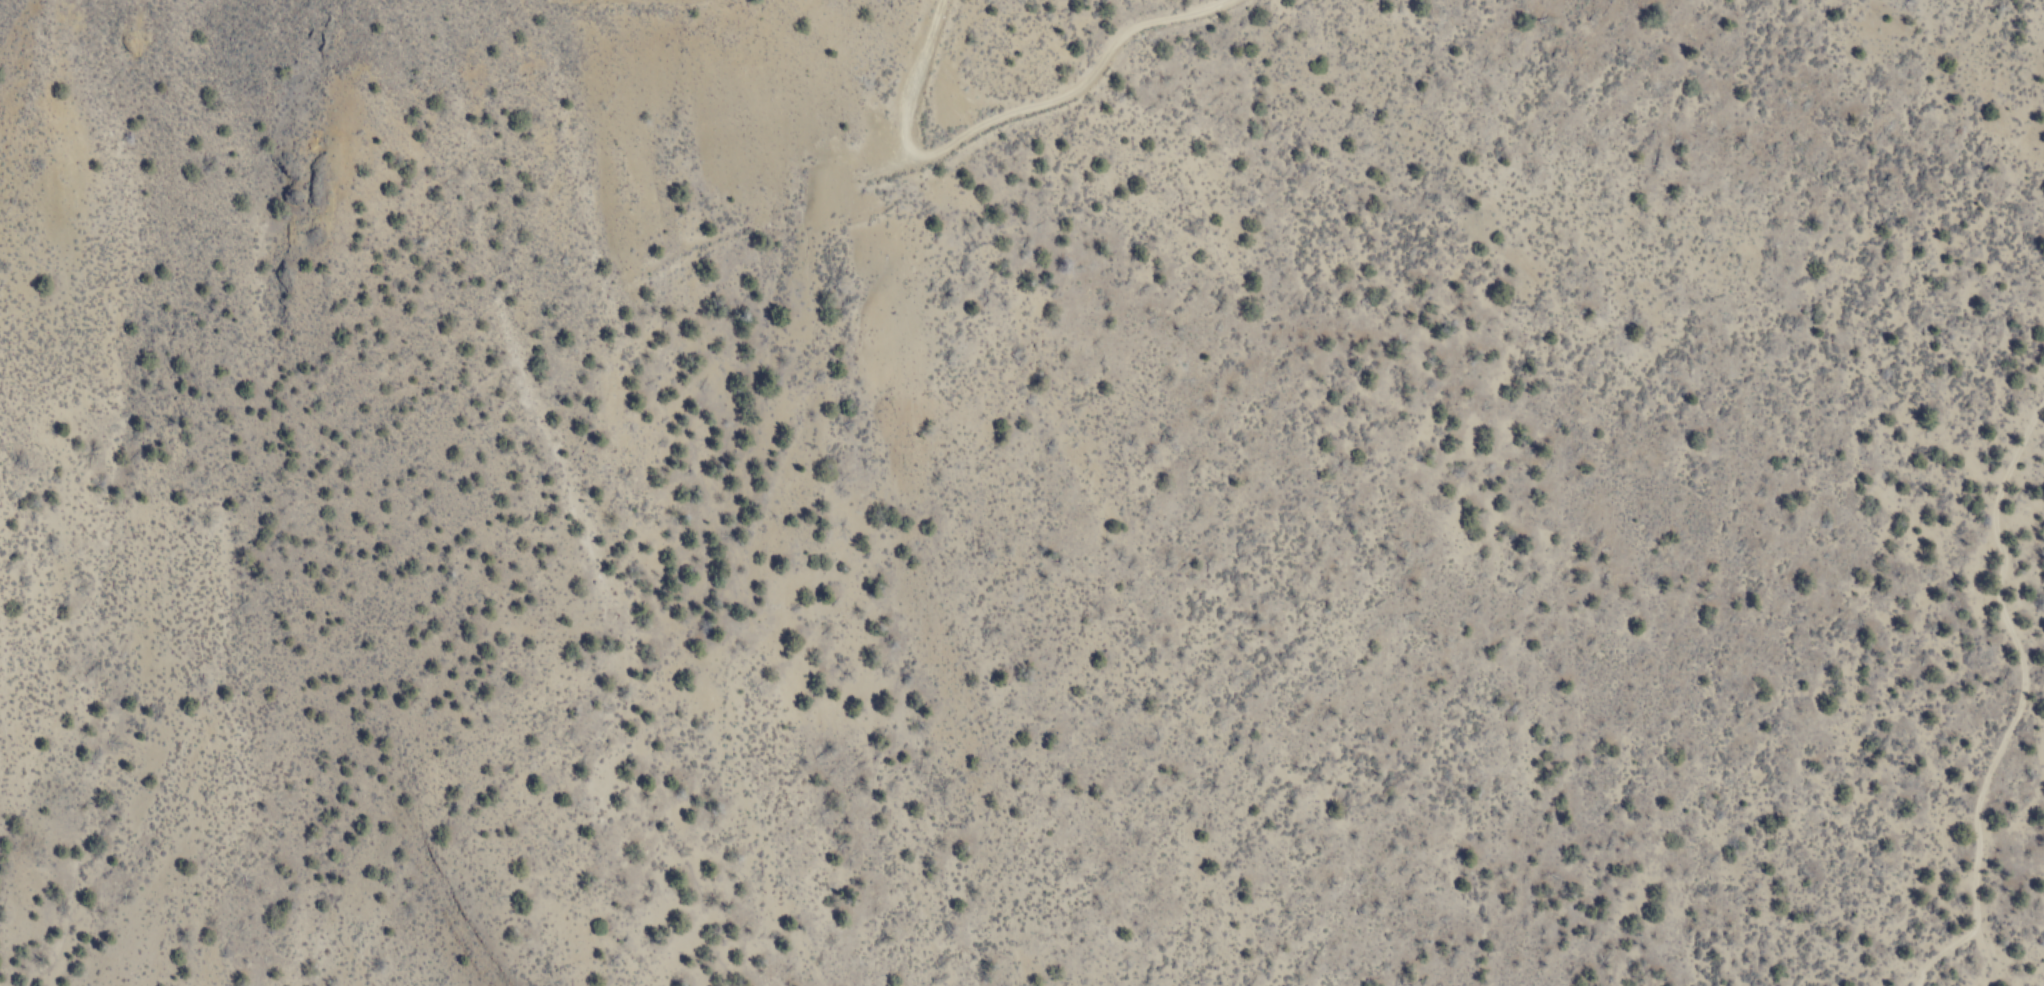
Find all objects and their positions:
road: (1015, 113)

